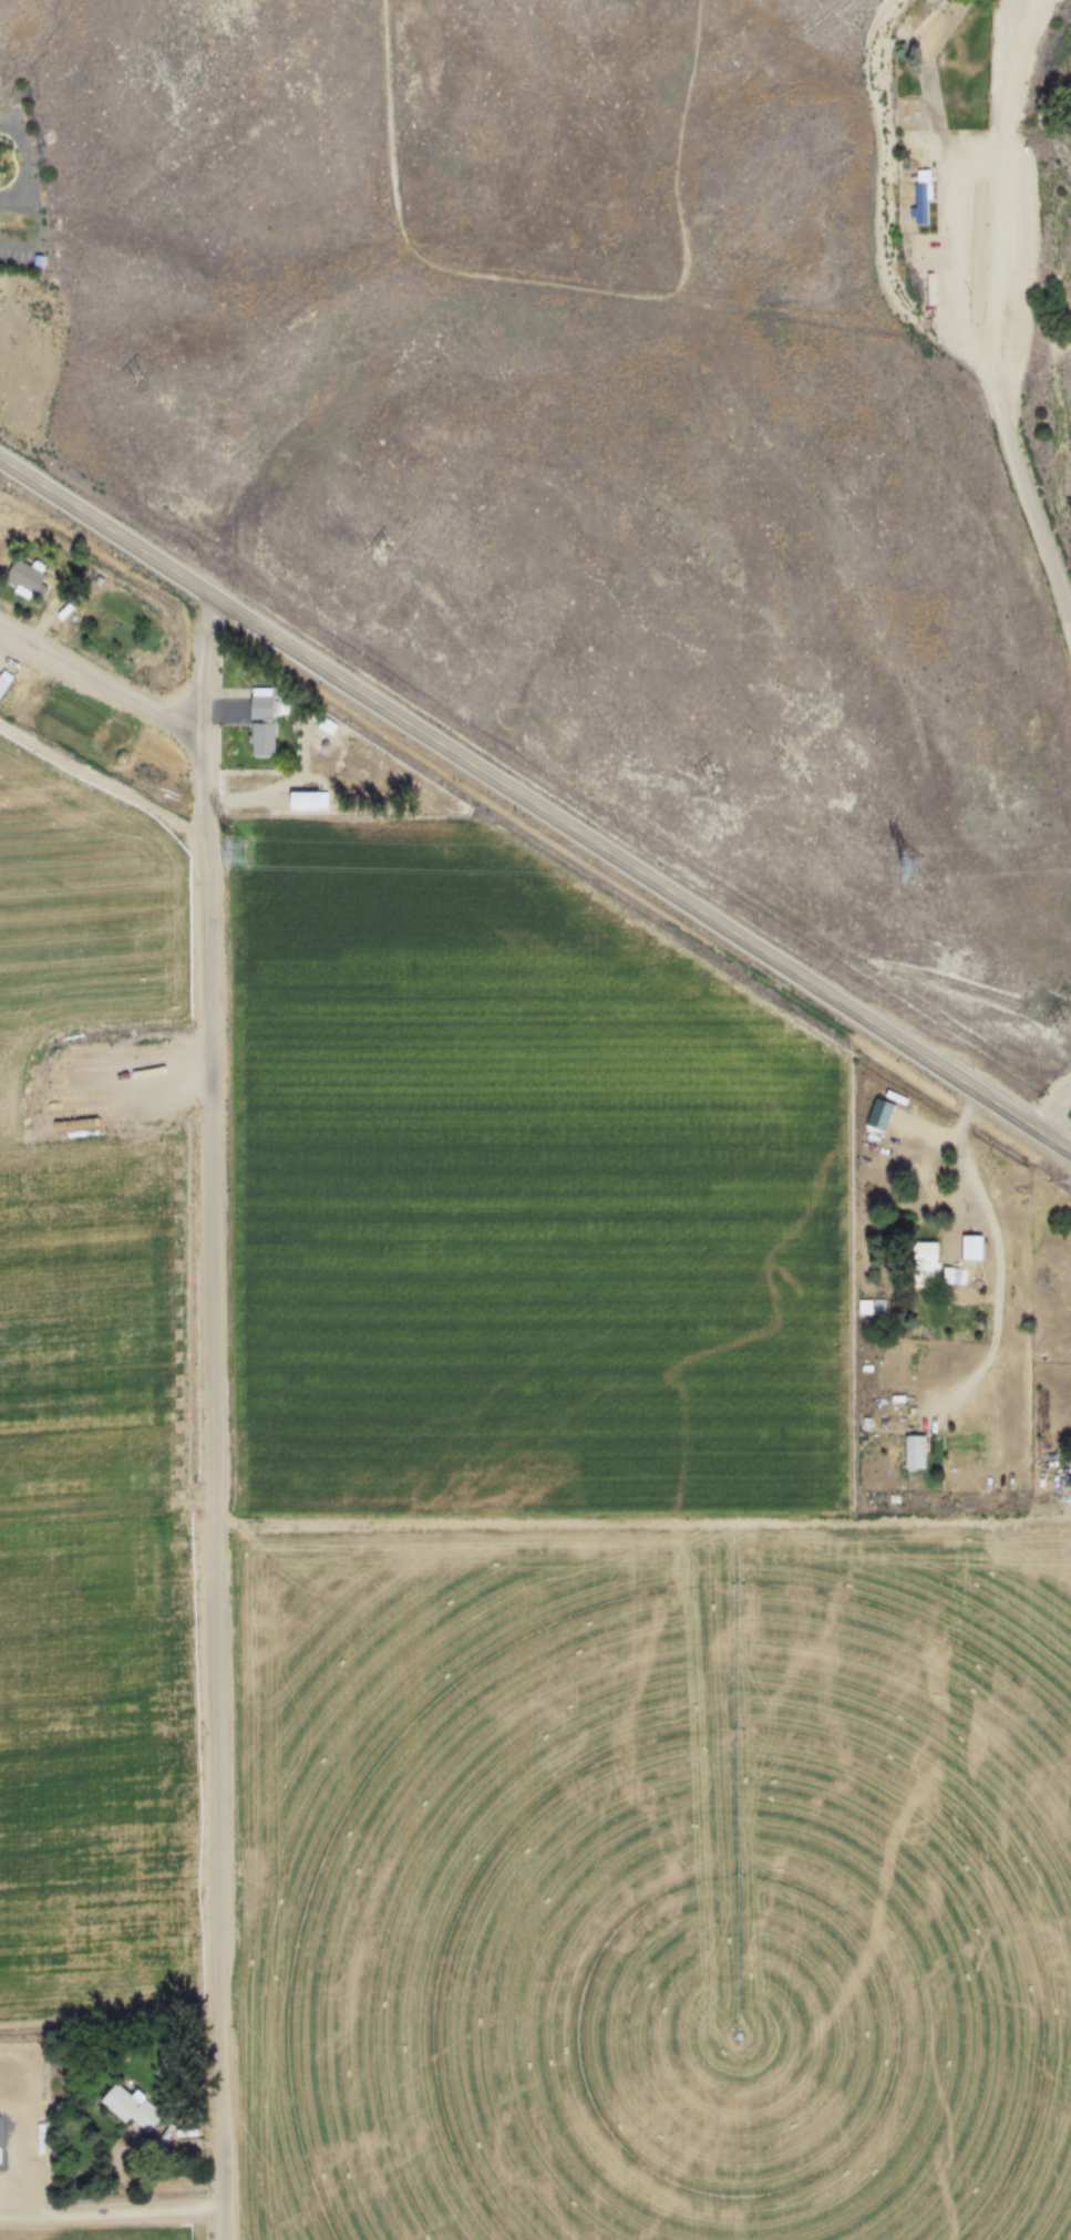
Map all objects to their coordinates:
road: (17, 162)
building: (921, 194)
road: (1003, 309)
building: (28, 578)
road: (100, 680)
building: (3, 684)
building: (261, 721)
road: (102, 785)
building: (305, 799)
road: (535, 803)
power tower: (239, 853)
power tower: (910, 865)
building: (73, 1092)
road: (1058, 1119)
building: (972, 1247)
road: (1002, 1258)
building: (926, 1264)
road: (207, 1416)
building: (916, 1452)
building: (132, 2108)
road: (111, 2210)

